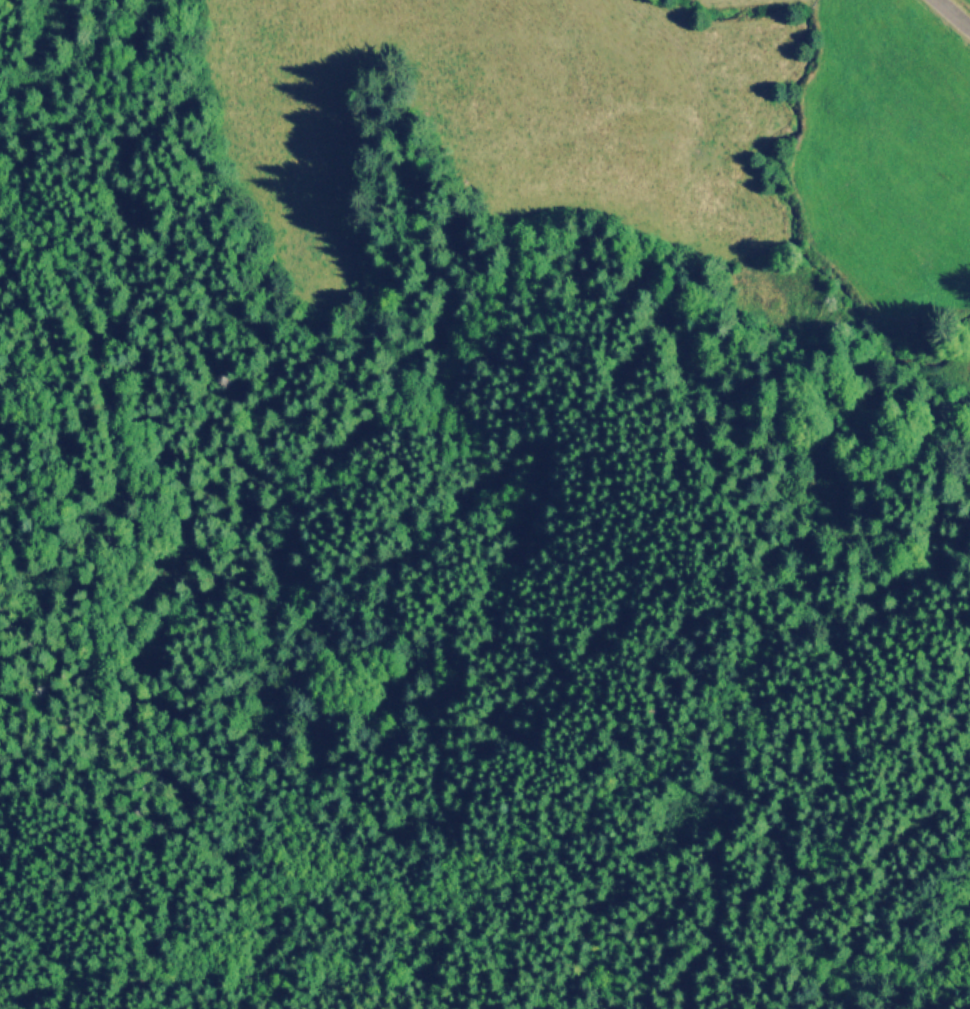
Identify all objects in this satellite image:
road: (957, 10)

